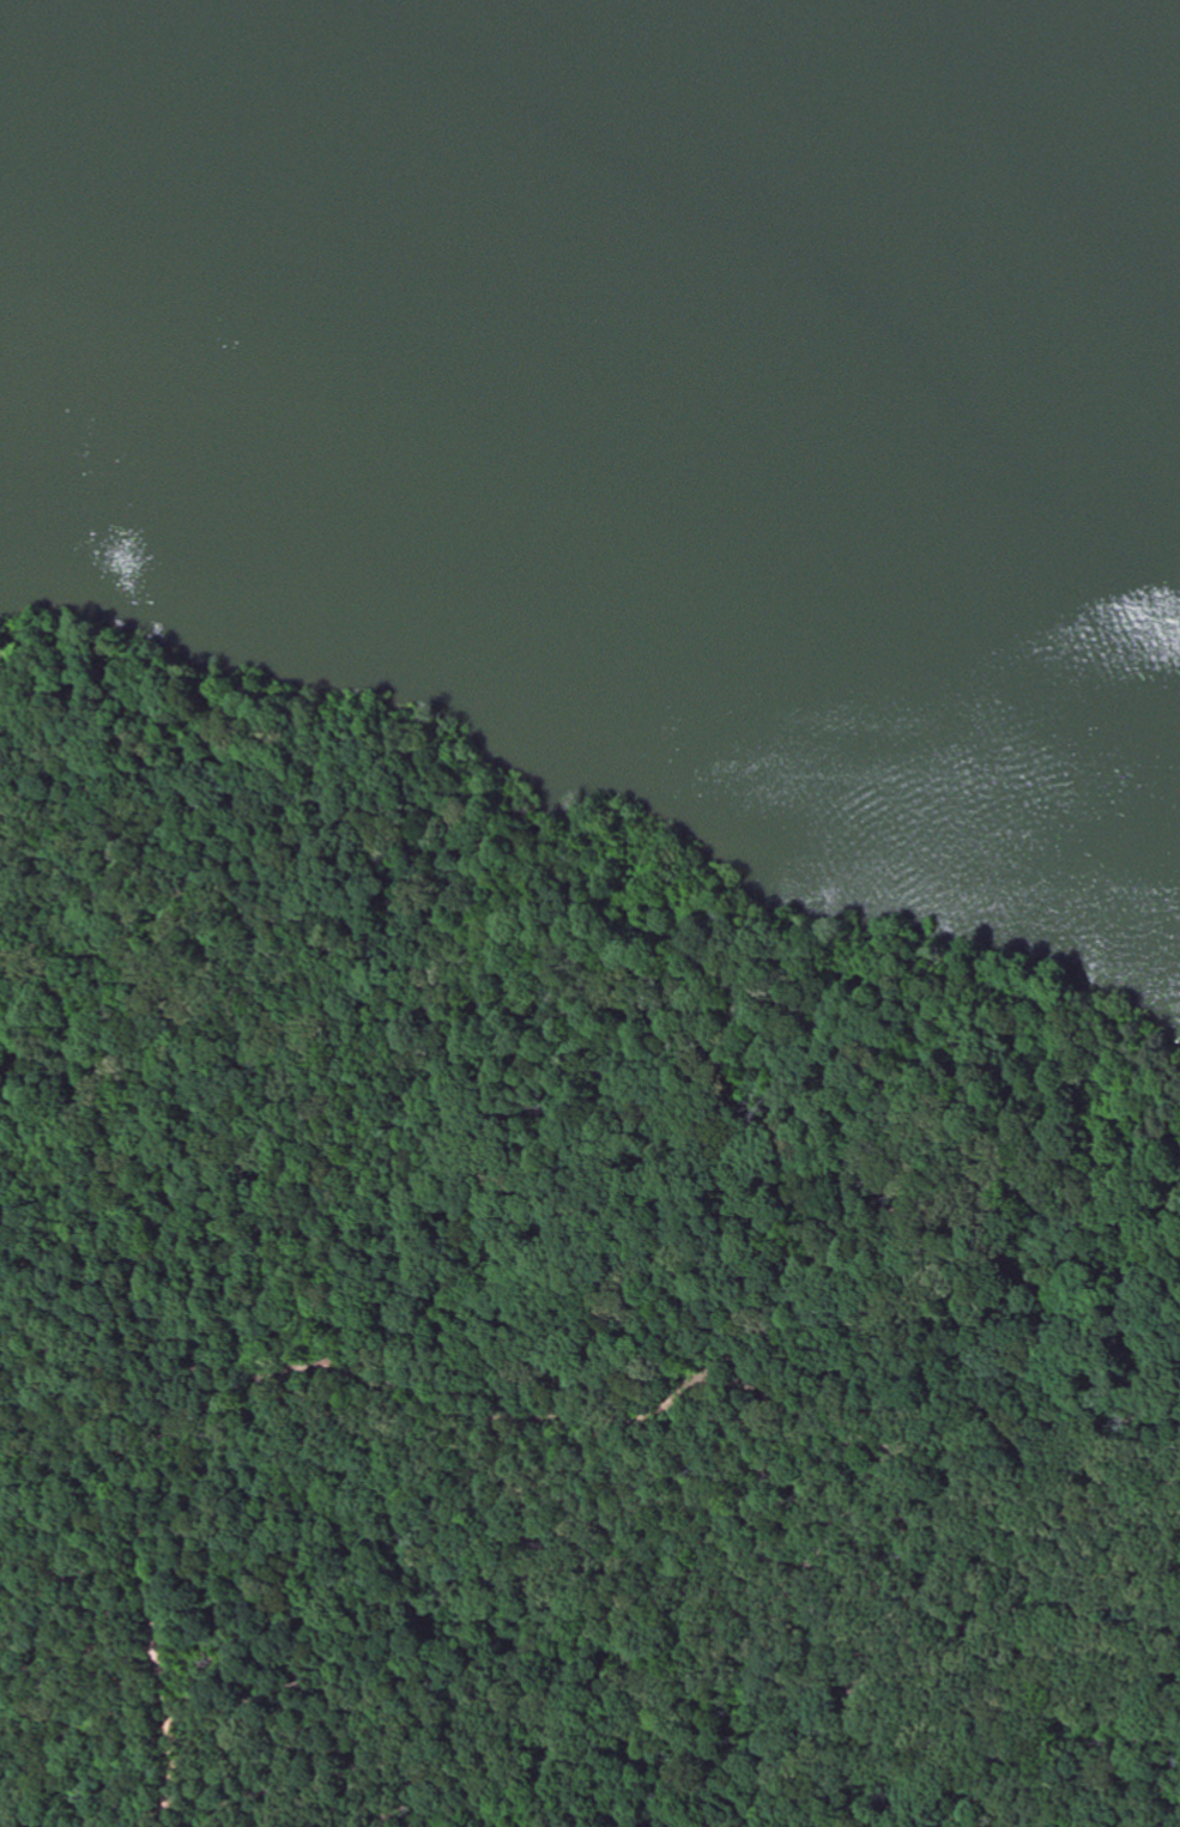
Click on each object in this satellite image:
road: (459, 1403)

